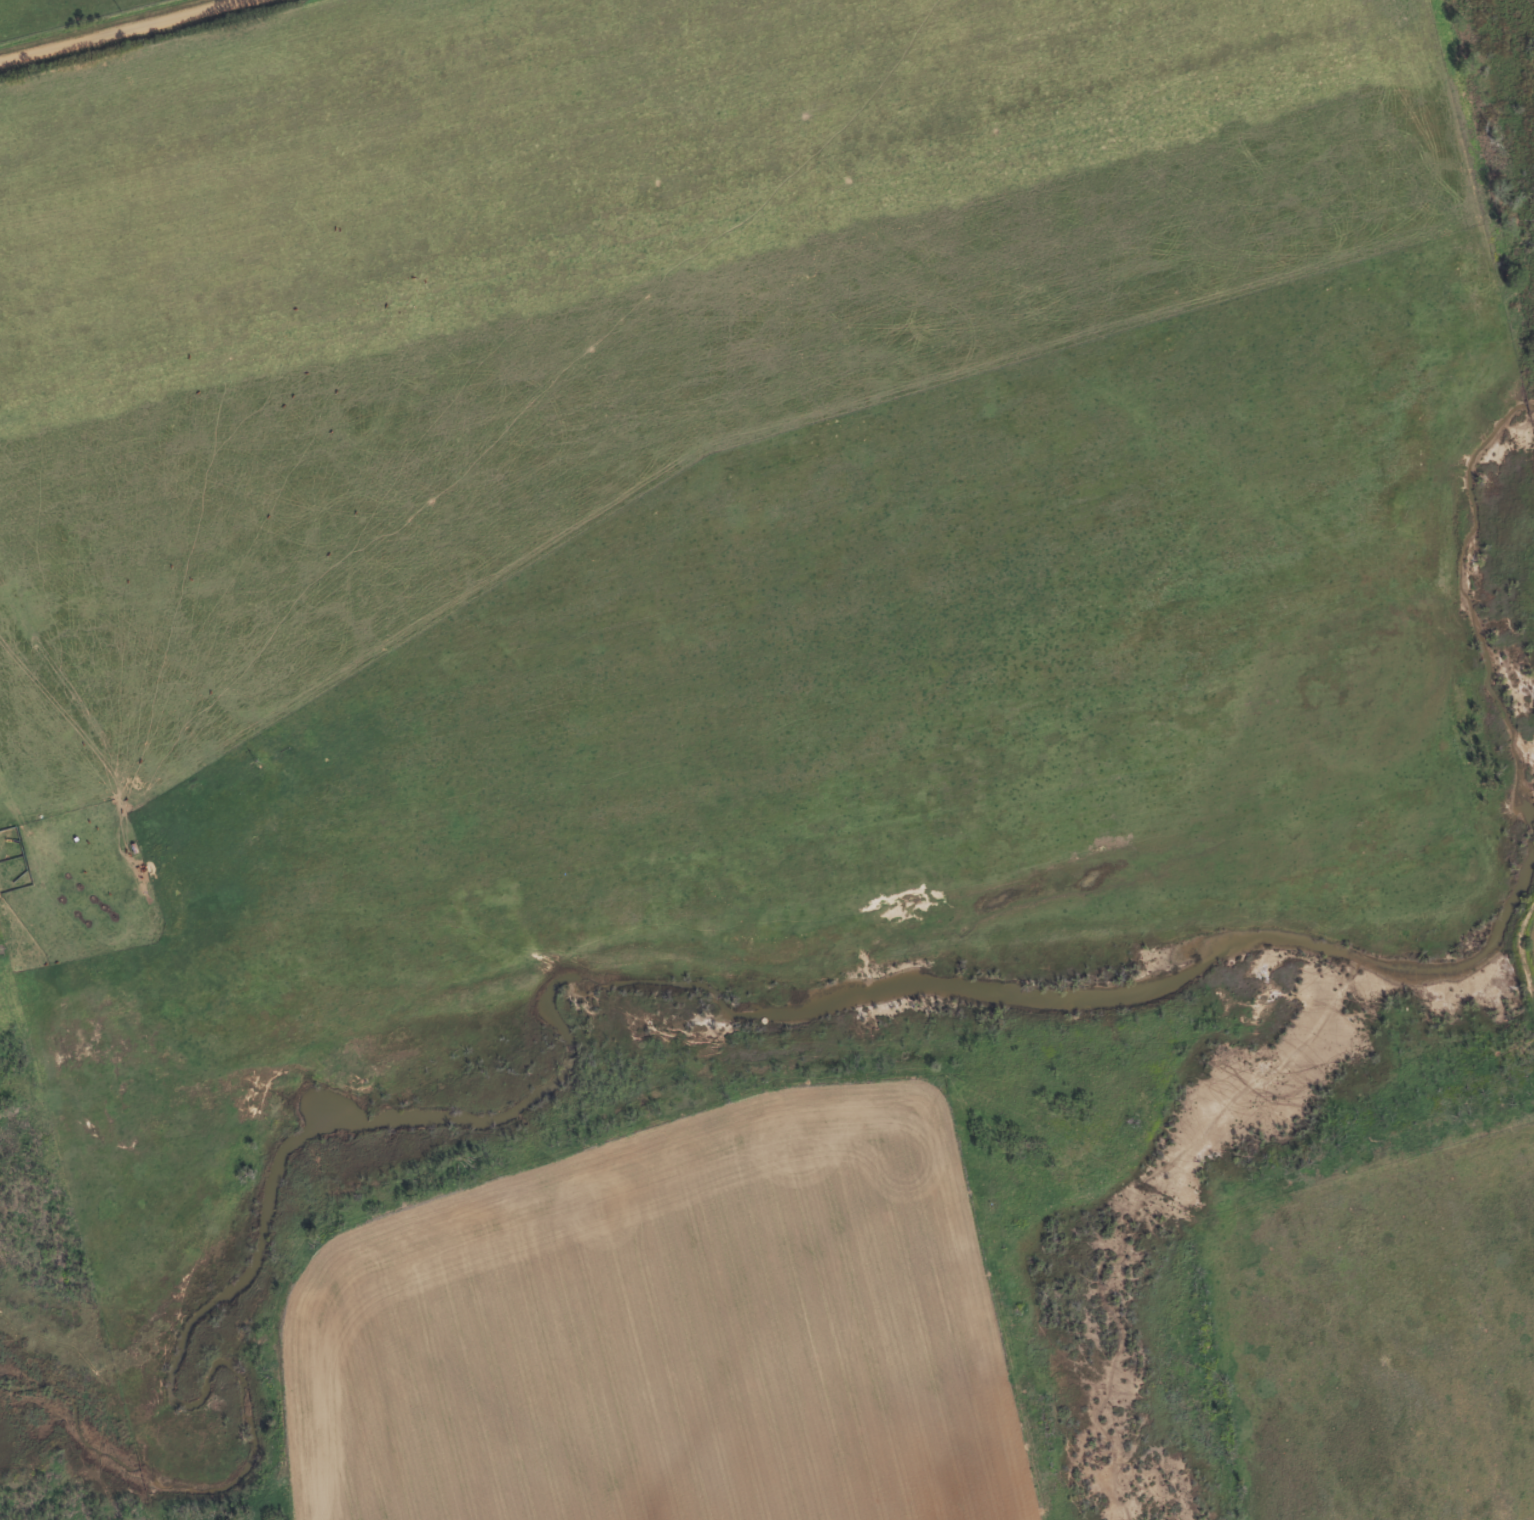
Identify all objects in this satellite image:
road: (121, 31)

